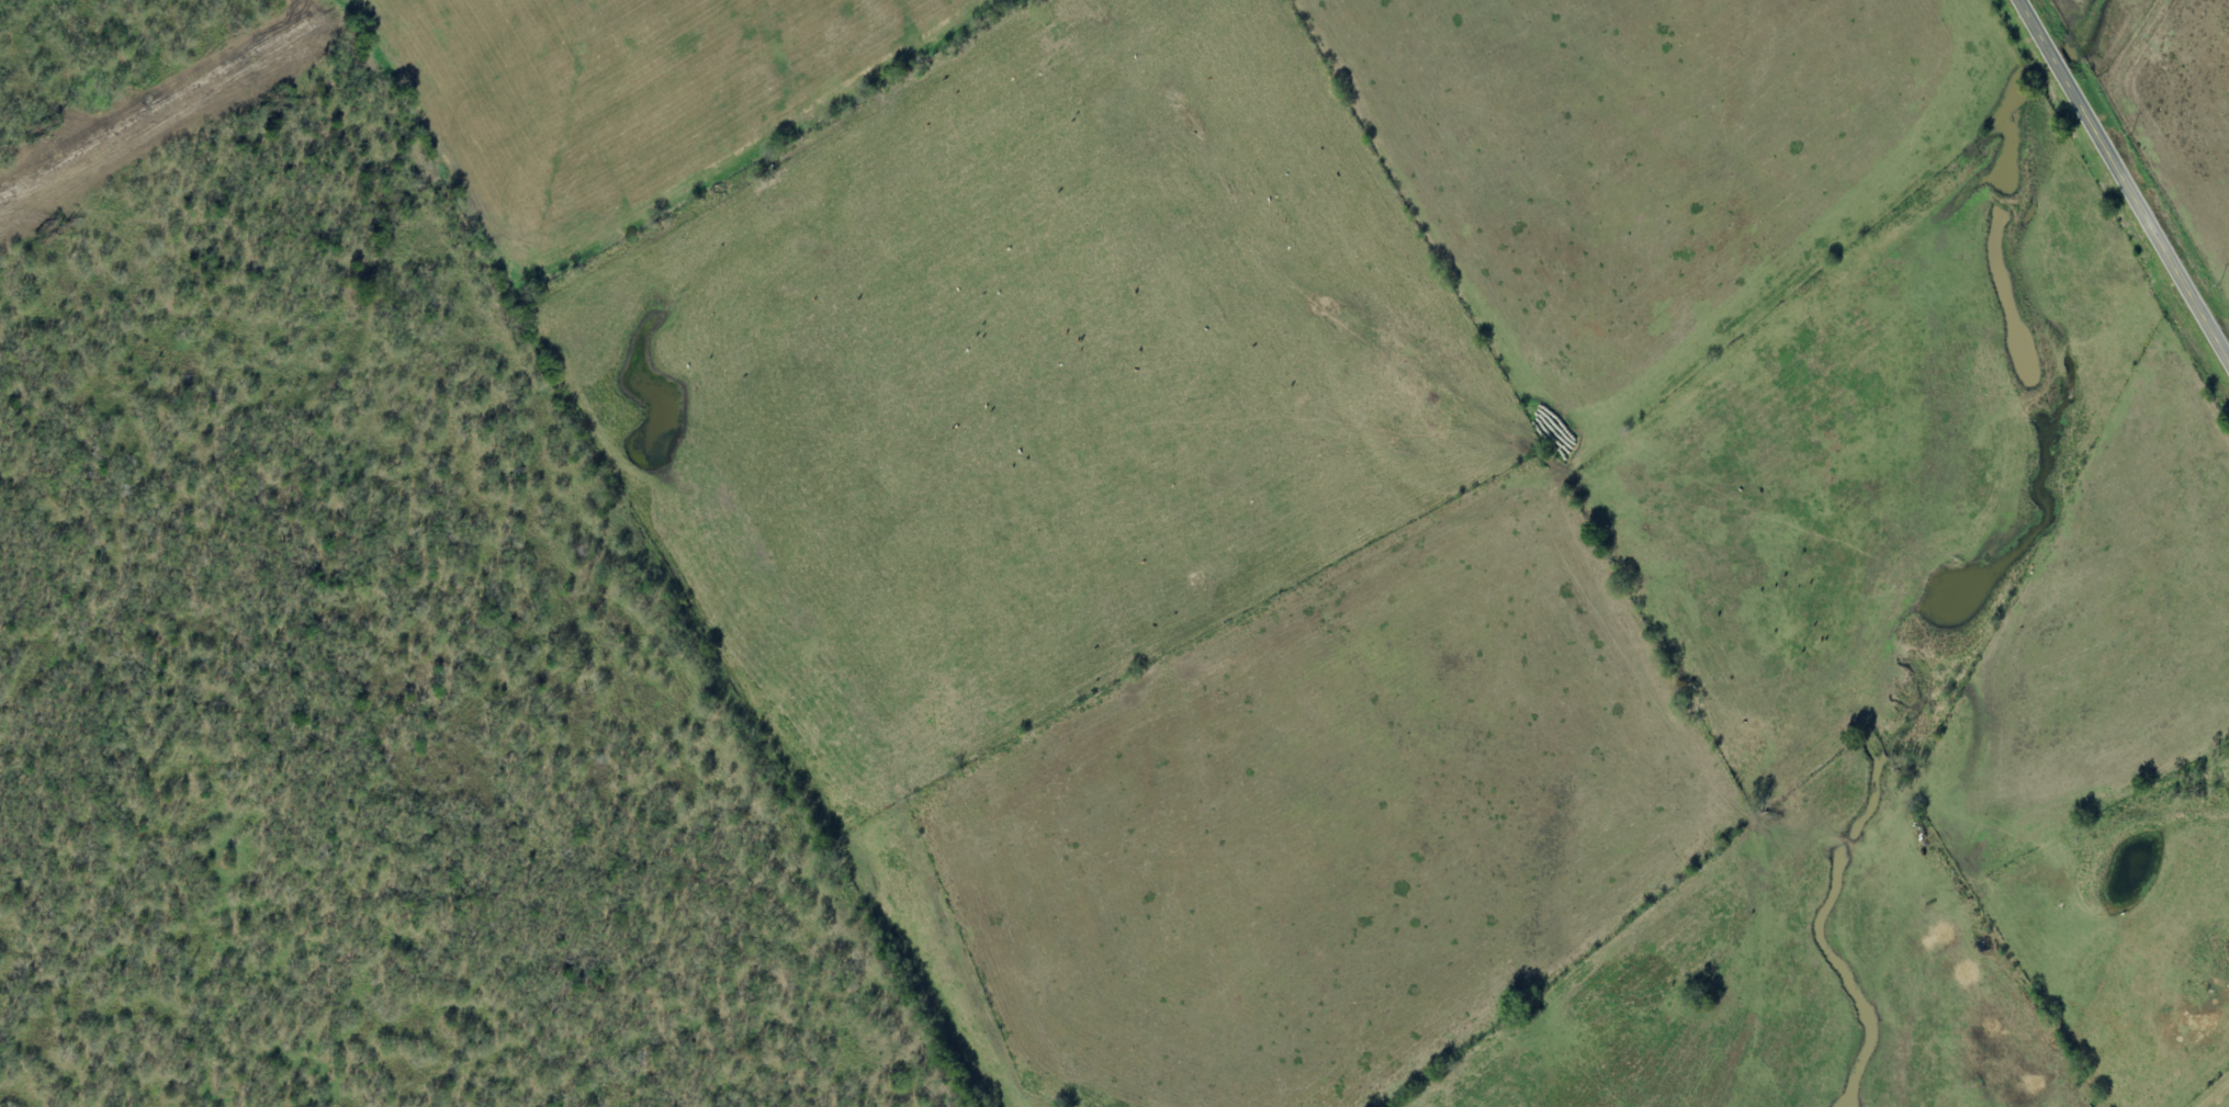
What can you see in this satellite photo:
road: (2129, 170)

